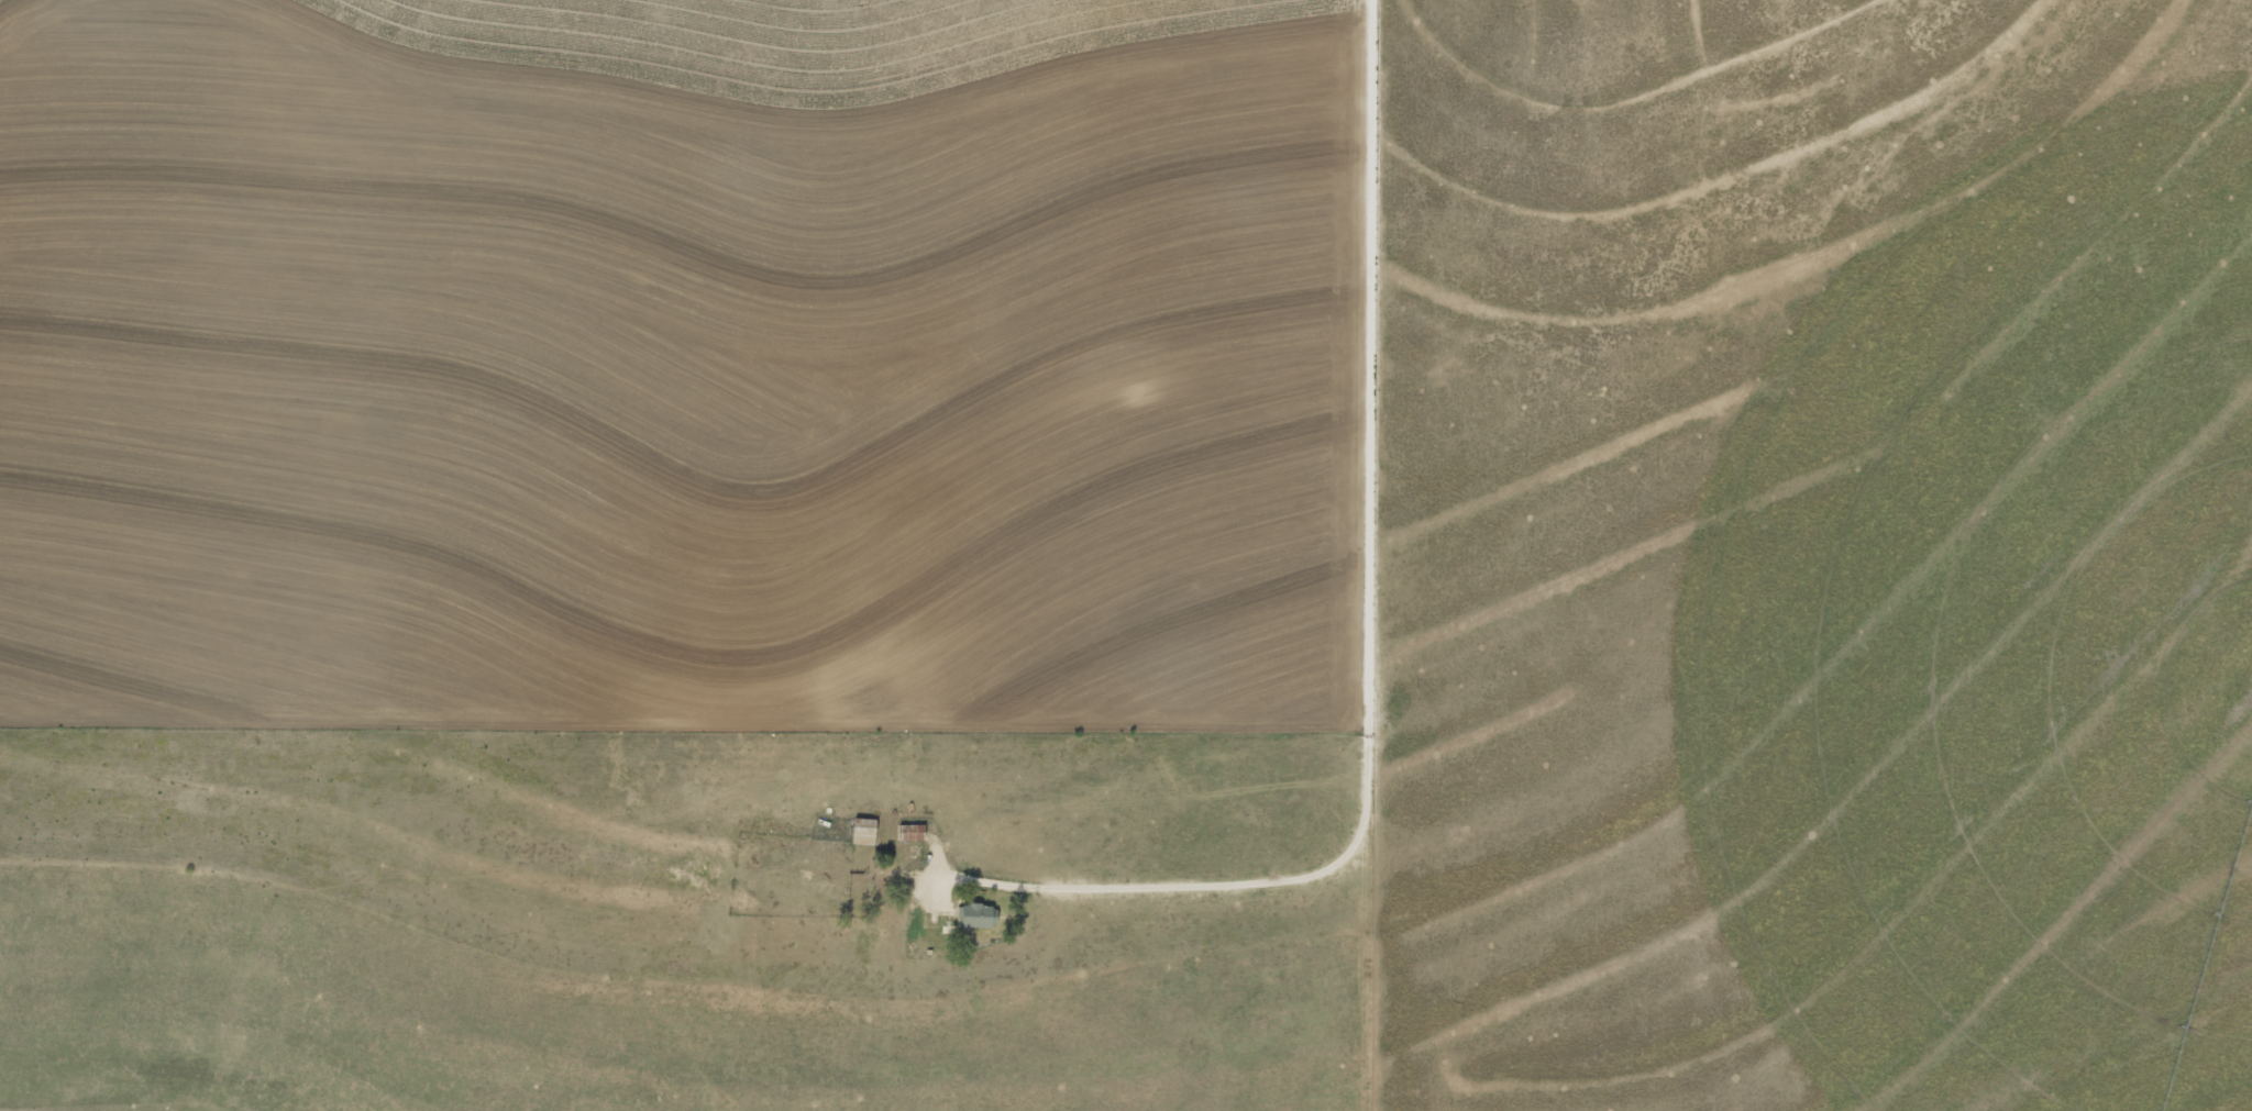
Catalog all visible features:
road: (1403, 634)
building: (914, 832)
building: (978, 916)

